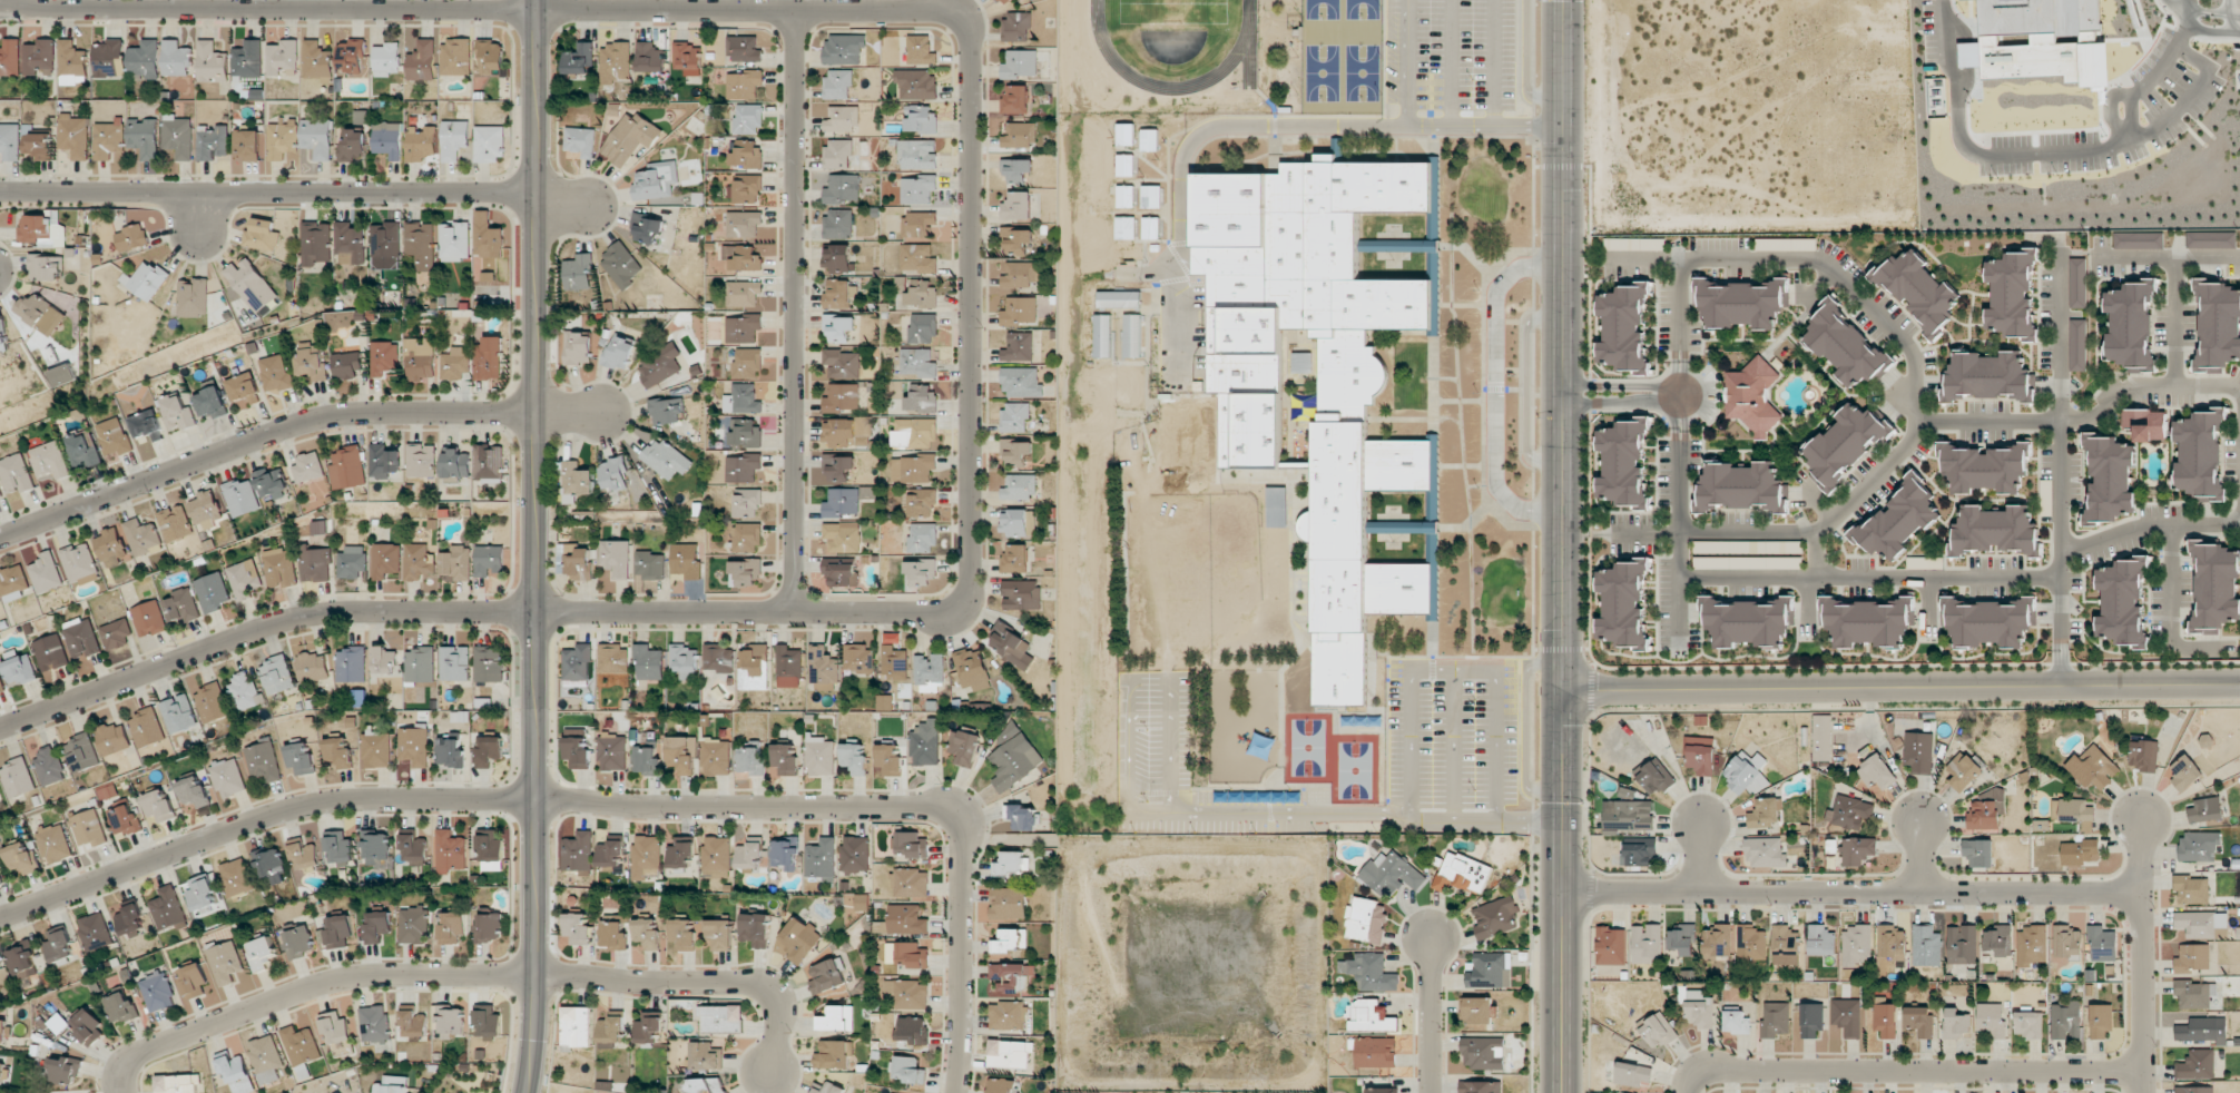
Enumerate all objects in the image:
building: (1003, 2)
road: (2188, 7)
road: (2231, 8)
building: (2038, 17)
road: (2190, 17)
road: (2232, 24)
building: (1016, 27)
building: (744, 48)
building: (844, 48)
building: (920, 49)
building: (10, 57)
building: (39, 57)
building: (455, 57)
building: (491, 57)
building: (649, 57)
building: (109, 58)
building: (283, 58)
building: (352, 58)
building: (688, 58)
building: (176, 59)
building: (247, 59)
building: (386, 59)
building: (579, 59)
building: (316, 60)
building: (423, 60)
building: (144, 61)
building: (212, 62)
building: (616, 62)
building: (71, 63)
building: (1020, 63)
building: (744, 83)
building: (837, 83)
building: (916, 83)
building: (1015, 99)
building: (748, 119)
building: (841, 119)
building: (921, 119)
building: (1126, 134)
building: (1019, 135)
building: (73, 136)
building: (178, 136)
building: (144, 137)
building: (317, 138)
building: (630, 138)
building: (108, 139)
building: (387, 139)
building: (454, 139)
building: (1149, 139)
building: (10, 140)
building: (282, 140)
building: (212, 141)
building: (580, 141)
building: (421, 142)
building: (489, 144)
building: (39, 145)
building: (248, 145)
building: (353, 146)
building: (745, 154)
building: (839, 154)
building: (917, 154)
building: (1126, 165)
building: (1016, 169)
building: (656, 180)
building: (746, 188)
building: (843, 188)
building: (918, 189)
road: (267, 193)
building: (1126, 196)
building: (1151, 196)
road: (563, 199)
building: (1016, 206)
building: (838, 223)
building: (743, 224)
building: (918, 224)
building: (1126, 227)
building: (647, 228)
building: (1151, 228)
building: (42, 230)
building: (262, 235)
building: (488, 236)
building: (131, 237)
building: (385, 239)
building: (2211, 239)
building: (455, 240)
building: (1016, 240)
building: (2138, 240)
building: (351, 243)
building: (316, 244)
building: (421, 244)
building: (1634, 244)
building: (1785, 244)
road: (2168, 256)
building: (741, 257)
building: (837, 258)
building: (917, 258)
building: (620, 266)
building: (45, 267)
building: (578, 272)
building: (1021, 274)
building: (146, 279)
building: (2077, 282)
building: (252, 286)
building: (1917, 291)
building: (918, 292)
building: (743, 293)
building: (838, 293)
building: (2012, 295)
building: (193, 297)
building: (1119, 299)
building: (1741, 303)
building: (1020, 311)
road: (795, 312)
building: (40, 313)
road: (972, 321)
road: (2174, 321)
building: (2131, 324)
building: (2217, 325)
building: (838, 327)
building: (923, 327)
building: (1623, 327)
building: (743, 328)
building: (2, 334)
building: (1132, 335)
road: (2057, 335)
building: (1102, 336)
road: (1564, 345)
building: (2077, 345)
building: (1846, 346)
building: (1019, 347)
building: (578, 348)
building: (619, 352)
building: (383, 357)
building: (490, 358)
building: (419, 360)
building: (312, 361)
building: (747, 363)
building: (843, 363)
building: (917, 363)
building: (454, 364)
building: (660, 364)
building: (346, 365)
building: (276, 373)
building: (61, 375)
building: (1988, 376)
building: (1022, 383)
road: (1609, 383)
road: (2144, 385)
road: (1495, 390)
road: (1523, 390)
road: (1706, 396)
building: (1752, 396)
building: (842, 397)
building: (921, 397)
building: (741, 400)
road: (1913, 401)
building: (212, 403)
road: (1609, 403)
building: (177, 411)
building: (667, 411)
road: (571, 413)
building: (1014, 416)
building: (146, 424)
building: (2145, 424)
building: (745, 432)
building: (846, 432)
building: (915, 433)
building: (114, 436)
road: (259, 436)
building: (1844, 443)
building: (1015, 450)
building: (83, 451)
building: (2200, 453)
building: (665, 459)
building: (49, 460)
building: (383, 461)
building: (421, 461)
building: (1623, 462)
building: (456, 463)
building: (489, 463)
building: (308, 467)
building: (743, 467)
building: (838, 467)
building: (913, 467)
building: (1985, 467)
building: (347, 469)
building: (16, 473)
building: (613, 473)
building: (2109, 479)
road: (2059, 480)
building: (577, 481)
building: (272, 482)
building: (1019, 486)
building: (1741, 488)
building: (868, 492)
building: (2045, 493)
building: (1, 494)
building: (242, 496)
building: (747, 502)
building: (842, 502)
building: (923, 503)
building: (1277, 506)
building: (207, 509)
building: (1898, 520)
building: (1013, 522)
building: (175, 523)
road: (2150, 525)
building: (320, 528)
building: (747, 536)
building: (842, 536)
building: (144, 538)
building: (922, 538)
building: (111, 546)
road: (534, 546)
building: (1747, 546)
building: (615, 558)
building: (1014, 559)
building: (488, 560)
building: (685, 560)
building: (385, 561)
building: (351, 562)
building: (419, 562)
building: (577, 562)
building: (1747, 562)
building: (315, 563)
building: (455, 564)
building: (649, 564)
building: (279, 568)
building: (922, 571)
building: (745, 572)
building: (842, 572)
building: (46, 573)
road: (1847, 578)
building: (244, 579)
building: (12, 582)
building: (2213, 585)
building: (212, 591)
building: (1020, 594)
building: (2122, 602)
building: (1623, 603)
building: (181, 605)
road: (2170, 605)
building: (149, 618)
building: (1748, 620)
building: (1867, 620)
building: (1987, 621)
building: (116, 633)
building: (81, 637)
building: (1011, 646)
building: (50, 652)
building: (718, 658)
building: (858, 658)
building: (613, 659)
building: (384, 660)
building: (684, 661)
building: (577, 662)
building: (648, 662)
building: (420, 663)
building: (454, 663)
building: (351, 664)
building: (489, 664)
building: (894, 664)
building: (18, 667)
building: (788, 667)
building: (312, 668)
building: (754, 668)
building: (822, 668)
building: (929, 673)
building: (277, 674)
building: (1, 686)
road: (1902, 687)
building: (245, 690)
building: (212, 703)
building: (179, 713)
building: (147, 728)
building: (1823, 737)
building: (114, 738)
building: (2205, 741)
building: (925, 744)
building: (964, 747)
building: (376, 749)
building: (489, 750)
building: (612, 751)
building: (1918, 751)
building: (82, 752)
building: (450, 752)
building: (577, 752)
building: (338, 754)
building: (681, 754)
building: (1700, 755)
building: (2144, 755)
building: (716, 756)
building: (821, 756)
building: (1014, 757)
building: (301, 758)
building: (647, 758)
building: (785, 758)
building: (854, 758)
building: (890, 759)
building: (263, 760)
building: (750, 760)
building: (49, 767)
building: (2097, 767)
building: (1962, 771)
building: (1876, 772)
building: (2184, 772)
building: (1746, 774)
building: (1654, 776)
building: (227, 777)
building: (17, 778)
building: (193, 792)
building: (0, 800)
building: (158, 805)
road: (606, 806)
building: (2205, 809)
building: (1985, 811)
building: (1765, 813)
building: (1849, 813)
building: (2075, 813)
building: (1022, 816)
building: (1627, 816)
building: (124, 820)
building: (88, 828)
building: (55, 843)
building: (912, 845)
building: (2199, 846)
building: (338, 847)
building: (376, 849)
building: (413, 849)
building: (1858, 849)
building: (490, 850)
building: (450, 851)
building: (680, 851)
building: (1765, 851)
building: (1978, 851)
building: (2080, 851)
building: (578, 853)
building: (610, 853)
building: (785, 853)
building: (1639, 853)
building: (855, 854)
building: (716, 855)
building: (748, 855)
road: (1700, 855)
road: (1922, 855)
building: (646, 856)
building: (821, 858)
building: (21, 859)
building: (1011, 865)
building: (271, 866)
building: (1462, 873)
building: (1391, 874)
building: (236, 876)
building: (1, 879)
building: (911, 883)
building: (2190, 889)
road: (1562, 892)
road: (1851, 892)
building: (200, 893)
building: (861, 902)
building: (1008, 903)
building: (168, 909)
building: (1494, 917)
building: (907, 919)
building: (131, 920)
building: (1365, 920)
building: (2197, 924)
building: (413, 925)
building: (452, 926)
building: (376, 927)
building: (489, 927)
building: (577, 927)
building: (755, 928)
building: (95, 930)
building: (338, 930)
building: (646, 933)
building: (612, 934)
building: (685, 934)
building: (719, 935)
building: (797, 939)
building: (1682, 939)
building: (1010, 941)
building: (1717, 941)
building: (1820, 941)
building: (299, 942)
building: (1890, 942)
building: (1997, 942)
building: (2066, 942)
building: (1647, 944)
building: (1750, 944)
building: (1855, 944)
building: (2102, 944)
building: (59, 945)
building: (1785, 945)
building: (1962, 945)
building: (2032, 945)
building: (1611, 946)
building: (1926, 946)
building: (261, 953)
building: (908, 954)
road: (2143, 956)
building: (2192, 958)
building: (23, 961)
building: (225, 961)
building: (1887, 966)
building: (1489, 971)
building: (1369, 972)
road: (469, 975)
building: (827, 976)
building: (1010, 976)
building: (191, 981)
building: (0, 986)
building: (158, 992)
building: (908, 994)
building: (2198, 994)
building: (121, 1007)
building: (1477, 1011)
building: (1700, 1013)
building: (1008, 1015)
road: (1428, 1015)
building: (1369, 1016)
building: (1847, 1016)
building: (721, 1018)
building: (836, 1018)
building: (1776, 1018)
building: (1811, 1020)
building: (1885, 1020)
building: (2065, 1020)
building: (488, 1021)
building: (1918, 1021)
building: (1991, 1021)
building: (2100, 1021)
building: (450, 1022)
building: (1736, 1022)
building: (374, 1023)
building: (413, 1024)
building: (1955, 1024)
building: (2028, 1024)
building: (88, 1025)
building: (576, 1027)
building: (649, 1027)
building: (335, 1028)
building: (912, 1030)
building: (2202, 1030)
building: (1658, 1031)
building: (4, 1032)
building: (611, 1032)
building: (299, 1045)
building: (1375, 1052)
building: (1482, 1053)
building: (833, 1054)
building: (1010, 1054)
building: (706, 1055)
building: (266, 1058)
building: (2197, 1064)
building: (66, 1070)
building: (908, 1070)
road: (1907, 1070)
building: (1, 1071)
building: (237, 1074)
building: (1632, 1074)
building: (177, 1083)
building: (391, 1084)
building: (707, 1085)
building: (1002, 1085)
building: (1481, 1086)
building: (829, 1089)
building: (1382, 1090)
building: (2193, 1090)
building: (0, 1092)
building: (888, 1092)

